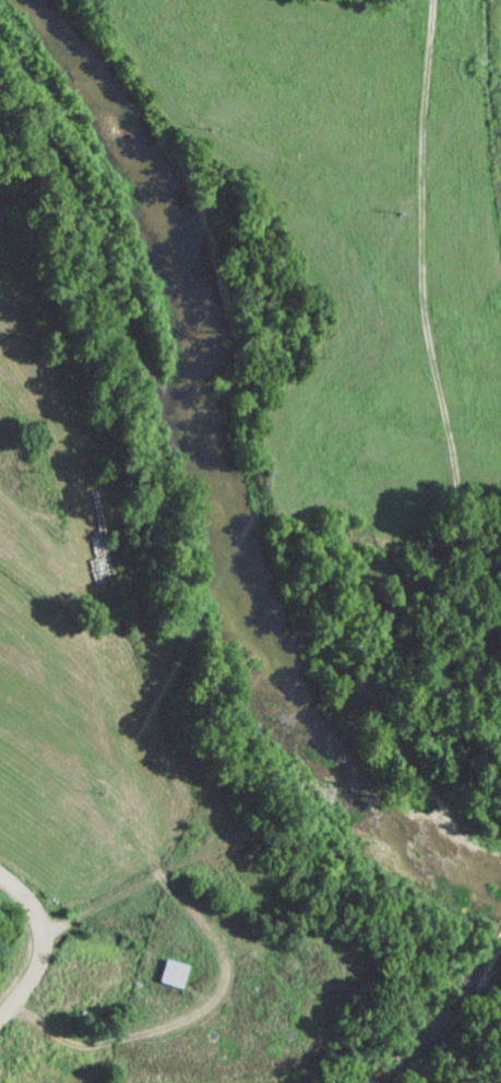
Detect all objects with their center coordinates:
road: (421, 272)
river: (206, 491)
road: (499, 514)
road: (132, 594)
road: (43, 939)
building: (171, 972)

